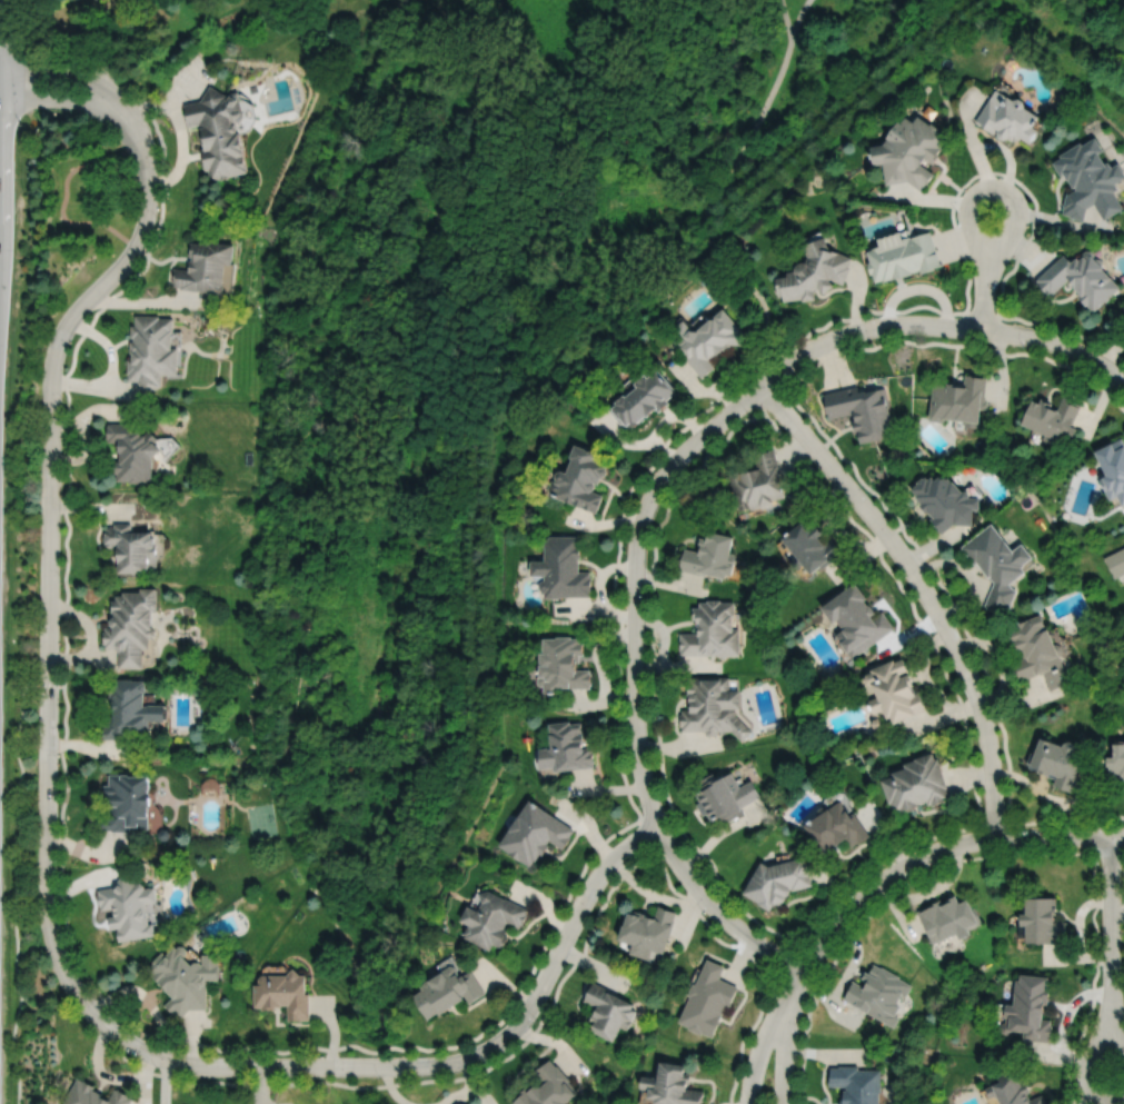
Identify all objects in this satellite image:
road: (798, 17)
road: (786, 18)
road: (8, 23)
road: (100, 32)
road: (4, 47)
road: (1064, 64)
road: (71, 76)
street lamp: (128, 95)
road: (63, 99)
building: (1006, 120)
street lamp: (21, 122)
building: (219, 131)
building: (908, 151)
building: (1088, 182)
road: (710, 199)
street lamp: (955, 208)
road: (1016, 213)
street lamp: (157, 218)
building: (903, 252)
building: (205, 265)
building: (814, 269)
building: (1081, 276)
road: (130, 278)
road: (147, 300)
road: (982, 314)
street lamp: (874, 315)
road: (866, 327)
building: (707, 338)
road: (106, 344)
road: (961, 344)
street lamp: (1024, 346)
building: (151, 349)
road: (787, 382)
road: (96, 386)
building: (643, 397)
road: (772, 398)
building: (961, 398)
street lamp: (62, 399)
road: (755, 408)
building: (862, 408)
street lamp: (748, 412)
building: (1054, 416)
building: (132, 450)
building: (1114, 468)
building: (581, 478)
street lamp: (674, 479)
building: (758, 480)
street lamp: (868, 491)
building: (946, 500)
road: (49, 543)
building: (810, 546)
building: (132, 548)
building: (709, 555)
building: (1116, 561)
building: (998, 563)
building: (563, 567)
street lamp: (61, 578)
road: (938, 579)
road: (925, 588)
street lamp: (647, 594)
building: (857, 619)
building: (133, 626)
building: (712, 630)
street lamp: (935, 630)
building: (1038, 652)
building: (564, 665)
building: (895, 690)
building: (712, 707)
building: (132, 709)
street lamp: (624, 716)
street lamp: (995, 720)
building: (566, 748)
road: (639, 760)
building: (1117, 760)
street lamp: (59, 762)
building: (1058, 763)
building: (916, 784)
building: (725, 796)
building: (129, 804)
street lamp: (639, 804)
road: (1058, 817)
road: (995, 822)
street lamp: (1102, 824)
building: (835, 828)
road: (718, 832)
road: (648, 833)
building: (535, 834)
road: (939, 848)
street lamp: (986, 851)
road: (1108, 852)
road: (1001, 856)
street lamp: (59, 861)
building: (779, 881)
road: (647, 889)
street lamp: (849, 892)
street lamp: (573, 896)
road: (561, 903)
building: (129, 907)
street lamp: (703, 911)
road: (687, 913)
road: (818, 915)
road: (1123, 915)
building: (493, 917)
building: (949, 919)
building: (1042, 921)
road: (1111, 925)
building: (646, 932)
street lamp: (782, 944)
road: (788, 962)
street lamp: (1100, 968)
building: (183, 976)
street lamp: (88, 983)
road: (797, 983)
building: (447, 988)
road: (556, 988)
building: (282, 992)
building: (878, 993)
building: (707, 998)
building: (1027, 1006)
building: (610, 1008)
street lamp: (535, 1018)
road: (1117, 1028)
road: (332, 1030)
street lamp: (799, 1031)
road: (759, 1046)
road: (784, 1050)
road: (824, 1054)
road: (417, 1065)
street lamp: (156, 1067)
road: (1088, 1067)
street lamp: (379, 1076)
street lamp: (243, 1077)
road: (163, 1081)
road: (471, 1083)
building: (856, 1083)
building: (670, 1084)
building: (548, 1086)
road: (391, 1088)
building: (1012, 1088)
building: (95, 1094)
road: (456, 1096)

